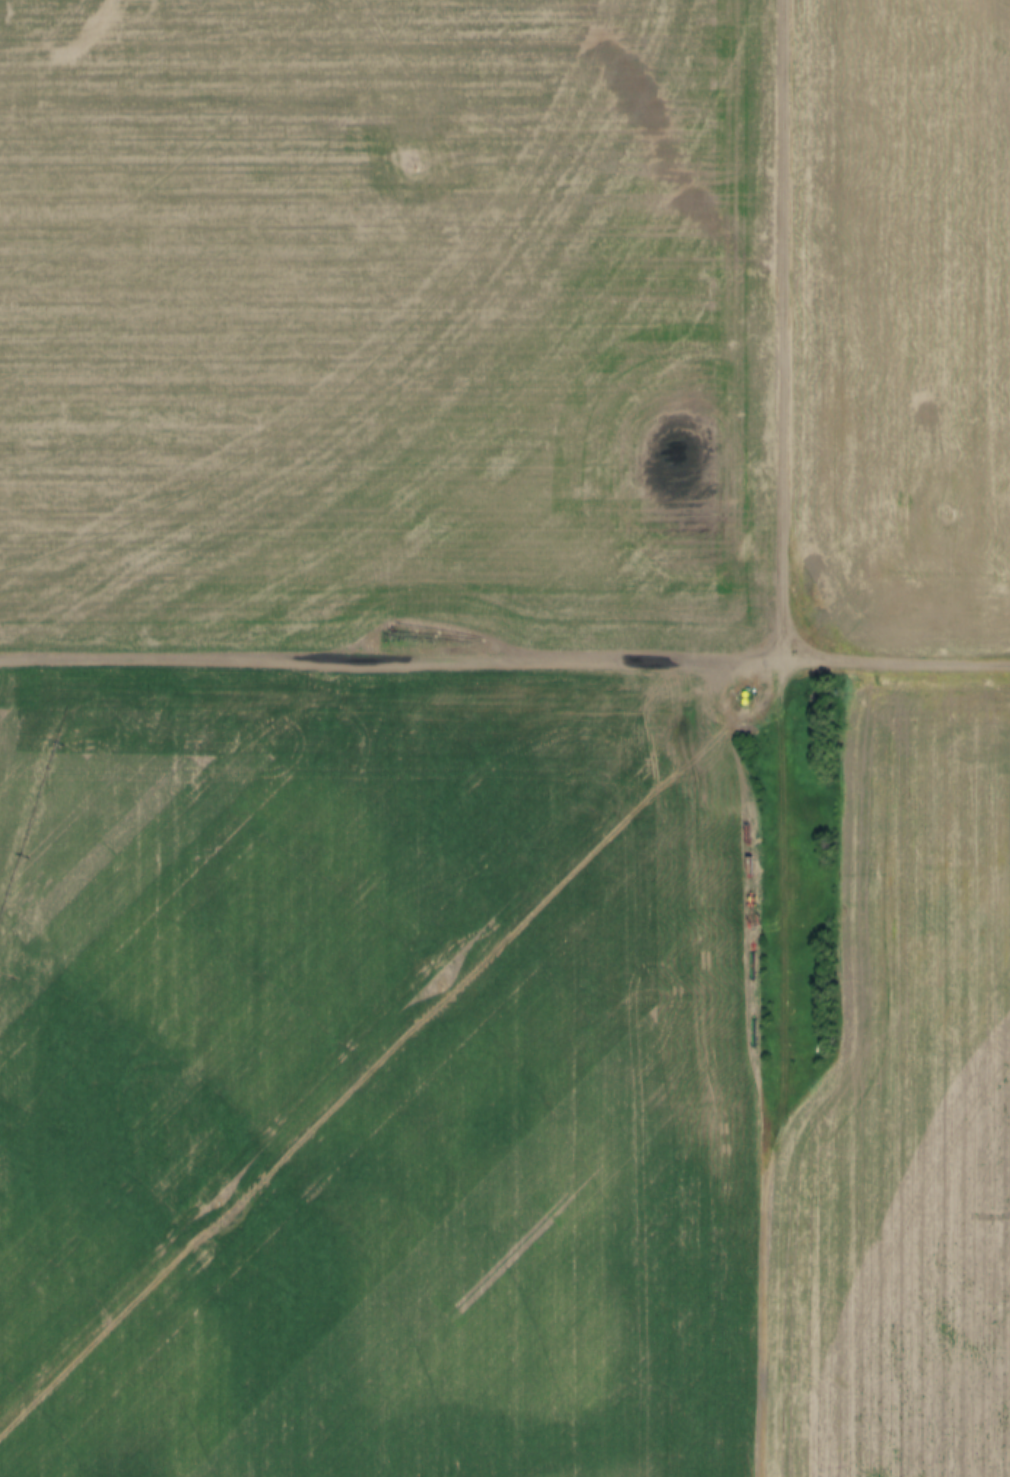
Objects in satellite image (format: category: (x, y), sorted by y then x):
road: (505, 654)
road: (786, 739)

